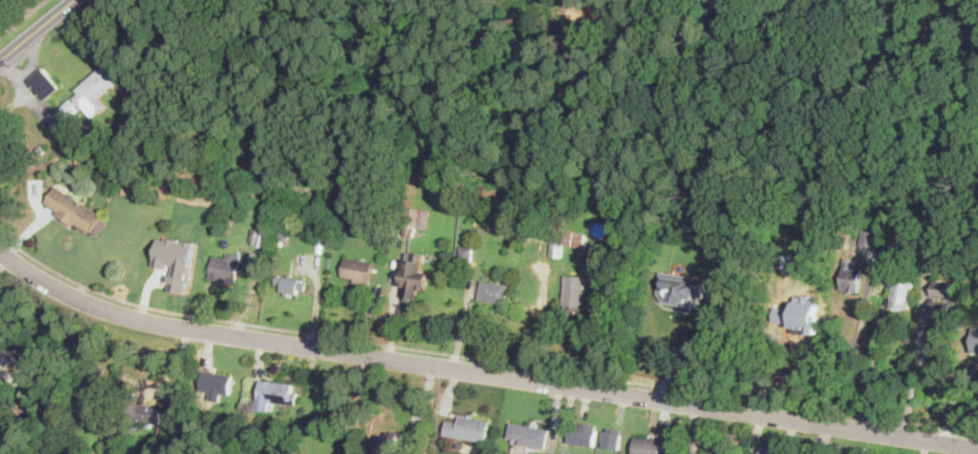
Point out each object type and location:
road: (22, 17)
road: (37, 30)
park: (664, 82)
building: (45, 85)
building: (96, 89)
building: (70, 109)
building: (124, 122)
building: (90, 145)
building: (40, 149)
building: (82, 160)
building: (326, 199)
building: (520, 207)
building: (73, 208)
building: (417, 220)
building: (303, 230)
building: (283, 231)
building: (377, 234)
building: (262, 237)
building: (870, 238)
building: (575, 239)
building: (557, 249)
building: (893, 254)
building: (792, 256)
building: (466, 257)
building: (227, 268)
building: (358, 271)
building: (417, 273)
building: (852, 276)
building: (293, 285)
building: (941, 288)
building: (681, 289)
building: (494, 291)
building: (902, 294)
building: (574, 296)
building: (940, 309)
building: (3, 312)
building: (786, 323)
building: (975, 338)
building: (5, 348)
road: (693, 353)
road: (479, 359)
road: (480, 371)
road: (917, 373)
building: (288, 376)
building: (216, 384)
building: (277, 392)
road: (358, 404)
building: (19, 407)
building: (145, 414)
building: (469, 428)
building: (584, 434)
building: (530, 435)
building: (135, 437)
building: (249, 437)
building: (612, 439)
building: (164, 441)
building: (386, 442)
building: (654, 445)
road: (926, 447)
building: (774, 451)

